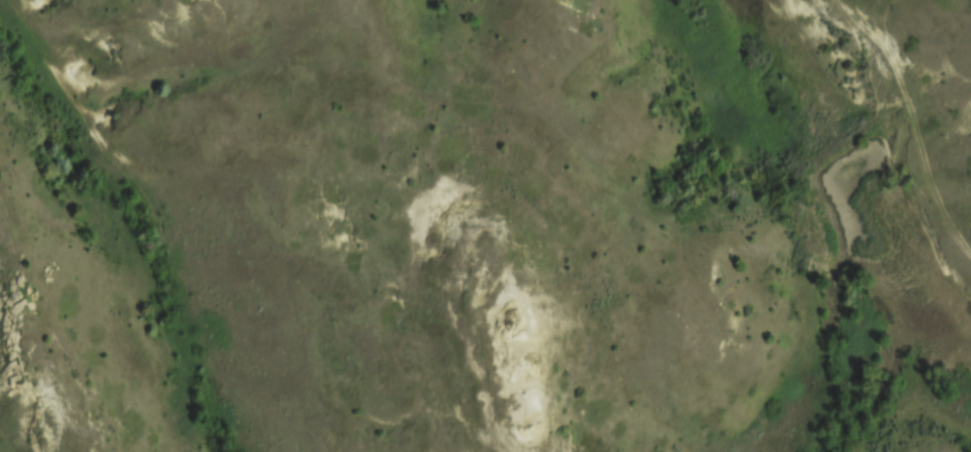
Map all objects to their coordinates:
road: (910, 123)

